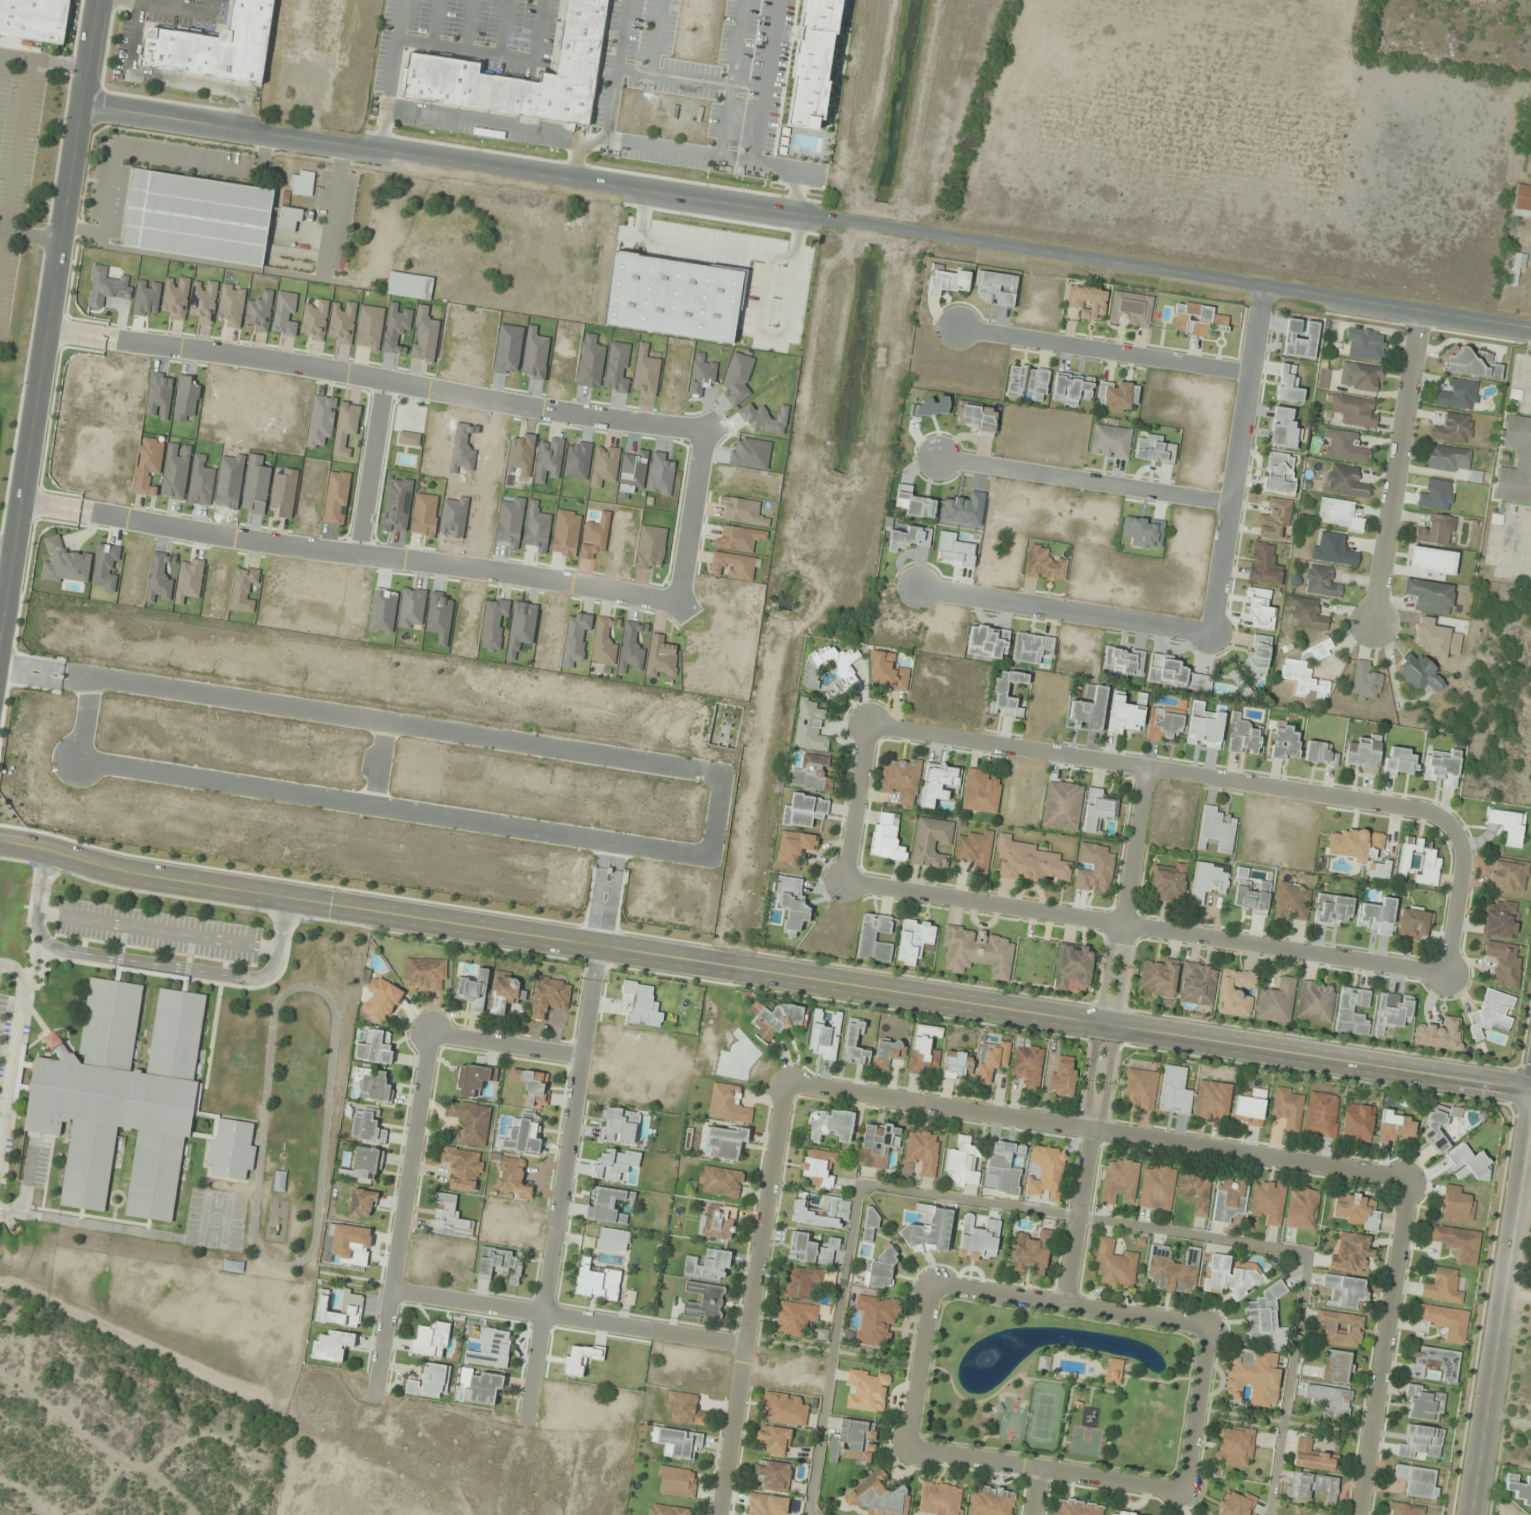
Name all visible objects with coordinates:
road: (141, 3)
road: (174, 5)
road: (160, 8)
building: (33, 19)
road: (437, 22)
road: (469, 25)
road: (505, 28)
road: (540, 31)
road: (657, 36)
building: (213, 47)
road: (468, 50)
building: (579, 57)
road: (43, 60)
building: (812, 61)
road: (616, 69)
road: (674, 76)
road: (173, 77)
road: (732, 79)
road: (768, 82)
road: (510, 125)
road: (387, 128)
road: (576, 156)
road: (15, 163)
road: (779, 167)
building: (303, 184)
road: (802, 191)
building: (1523, 201)
road: (642, 212)
road: (806, 213)
building: (198, 218)
building: (289, 220)
road: (28, 235)
road: (795, 236)
road: (708, 246)
building: (1517, 270)
building: (948, 280)
building: (410, 286)
building: (996, 289)
building: (109, 298)
building: (670, 299)
building: (1087, 301)
road: (47, 310)
building: (1131, 310)
building: (1198, 320)
road: (772, 335)
building: (1300, 338)
building: (1365, 345)
road: (1103, 351)
building: (1471, 363)
road: (374, 378)
building: (1361, 378)
building: (1028, 383)
building: (1289, 385)
building: (1071, 389)
building: (1459, 395)
building: (1117, 396)
building: (932, 407)
building: (1355, 411)
building: (978, 419)
building: (1284, 429)
building: (1454, 429)
building: (1111, 441)
building: (1344, 447)
building: (1155, 450)
road: (1235, 458)
building: (1447, 458)
building: (1524, 458)
road: (370, 467)
road: (1396, 467)
building: (1279, 474)
road: (1083, 480)
building: (1346, 482)
building: (915, 503)
building: (1340, 514)
road: (690, 515)
building: (1274, 520)
building: (1437, 530)
building: (911, 538)
road: (5, 548)
building: (1333, 550)
road: (347, 553)
building: (1422, 558)
road: (4, 560)
building: (1044, 565)
building: (1264, 565)
building: (1321, 581)
building: (1429, 596)
road: (1062, 609)
building: (1259, 609)
building: (1308, 613)
building: (988, 642)
building: (1032, 647)
building: (1257, 656)
building: (1124, 660)
building: (843, 670)
building: (886, 672)
building: (1308, 673)
building: (1175, 674)
building: (1420, 675)
building: (1234, 676)
building: (1366, 681)
building: (1007, 693)
building: (1089, 709)
building: (1124, 714)
building: (1164, 724)
building: (810, 727)
building: (1243, 736)
building: (1285, 743)
building: (1319, 754)
building: (1363, 754)
building: (1399, 761)
road: (1158, 768)
building: (1442, 770)
building: (812, 773)
building: (900, 780)
building: (939, 783)
building: (980, 791)
road: (854, 802)
building: (1062, 805)
building: (804, 811)
building: (1098, 811)
building: (1508, 825)
building: (1217, 829)
building: (886, 838)
building: (930, 842)
building: (794, 846)
building: (975, 850)
building: (1419, 861)
building: (1030, 862)
building: (1095, 868)
building: (1508, 874)
building: (1208, 881)
building: (1168, 884)
road: (1454, 897)
building: (1251, 898)
building: (1292, 902)
building: (792, 905)
building: (1332, 909)
building: (1377, 917)
building: (1500, 919)
building: (1415, 923)
road: (1143, 928)
road: (157, 929)
building: (875, 938)
building: (914, 941)
building: (979, 952)
road: (146, 963)
building: (1503, 964)
building: (1074, 965)
road: (763, 971)
building: (425, 975)
building: (1159, 978)
building: (1198, 984)
building: (473, 990)
building: (505, 992)
building: (1235, 992)
building: (549, 997)
building: (381, 1000)
building: (1276, 1002)
building: (1315, 1002)
building: (1353, 1011)
building: (1393, 1012)
building: (1492, 1014)
building: (778, 1019)
road: (1101, 1034)
building: (1439, 1034)
building: (824, 1036)
road: (13, 1039)
building: (855, 1043)
road: (504, 1044)
building: (375, 1047)
building: (923, 1050)
building: (889, 1054)
building: (991, 1060)
building: (958, 1064)
building: (1028, 1066)
building: (1063, 1078)
building: (472, 1079)
building: (372, 1084)
building: (533, 1087)
building: (1140, 1088)
building: (120, 1095)
building: (1212, 1100)
building: (727, 1103)
building: (1250, 1108)
building: (1288, 1109)
building: (1322, 1115)
building: (470, 1122)
building: (1357, 1123)
building: (829, 1125)
building: (1437, 1125)
building: (619, 1126)
building: (1395, 1126)
building: (367, 1127)
road: (1095, 1129)
building: (524, 1134)
building: (724, 1141)
building: (877, 1146)
building: (230, 1149)
building: (922, 1152)
building: (962, 1163)
building: (1468, 1164)
building: (462, 1168)
building: (819, 1168)
building: (1002, 1168)
building: (1047, 1173)
building: (512, 1178)
building: (280, 1181)
building: (720, 1182)
building: (1120, 1182)
road: (561, 1184)
building: (1157, 1187)
building: (1195, 1192)
building: (1229, 1199)
building: (1268, 1201)
building: (362, 1204)
building: (608, 1204)
building: (1456, 1204)
building: (1302, 1208)
road: (1047, 1210)
building: (1355, 1211)
building: (817, 1213)
road: (400, 1215)
building: (448, 1218)
building: (717, 1221)
building: (870, 1222)
building: (929, 1230)
building: (1457, 1242)
building: (811, 1249)
building: (1032, 1253)
building: (1351, 1253)
building: (500, 1264)
building: (708, 1264)
building: (1114, 1265)
building: (882, 1269)
building: (1172, 1270)
building: (1230, 1278)
building: (801, 1282)
building: (597, 1283)
building: (1442, 1287)
building: (1344, 1290)
road: (997, 1293)
road: (750, 1298)
building: (703, 1300)
building: (351, 1302)
road: (1500, 1303)
road: (566, 1315)
road: (1135, 1315)
building: (795, 1317)
building: (1265, 1318)
building: (876, 1319)
building: (1445, 1322)
building: (1340, 1328)
building: (822, 1335)
building: (430, 1340)
building: (332, 1345)
road: (1381, 1345)
building: (1436, 1363)
road: (919, 1365)
building: (1337, 1367)
building: (1114, 1371)
building: (1254, 1378)
building: (430, 1382)
park: (1056, 1385)
building: (482, 1389)
building: (866, 1391)
building: (1329, 1398)
building: (1424, 1403)
building: (686, 1408)
road: (1194, 1408)
building: (783, 1409)
building: (773, 1440)
building: (854, 1441)
building: (1421, 1442)
building: (680, 1443)
building: (1234, 1446)
building: (1313, 1457)
road: (1044, 1468)
building: (773, 1475)
building: (1417, 1481)
building: (676, 1482)
building: (1313, 1486)
building: (1519, 1489)
road: (1034, 1491)
building: (878, 1496)
building: (940, 1499)
building: (992, 1501)
building: (1236, 1504)
building: (1076, 1507)
building: (1404, 1509)
building: (667, 1510)
building: (1121, 1513)

